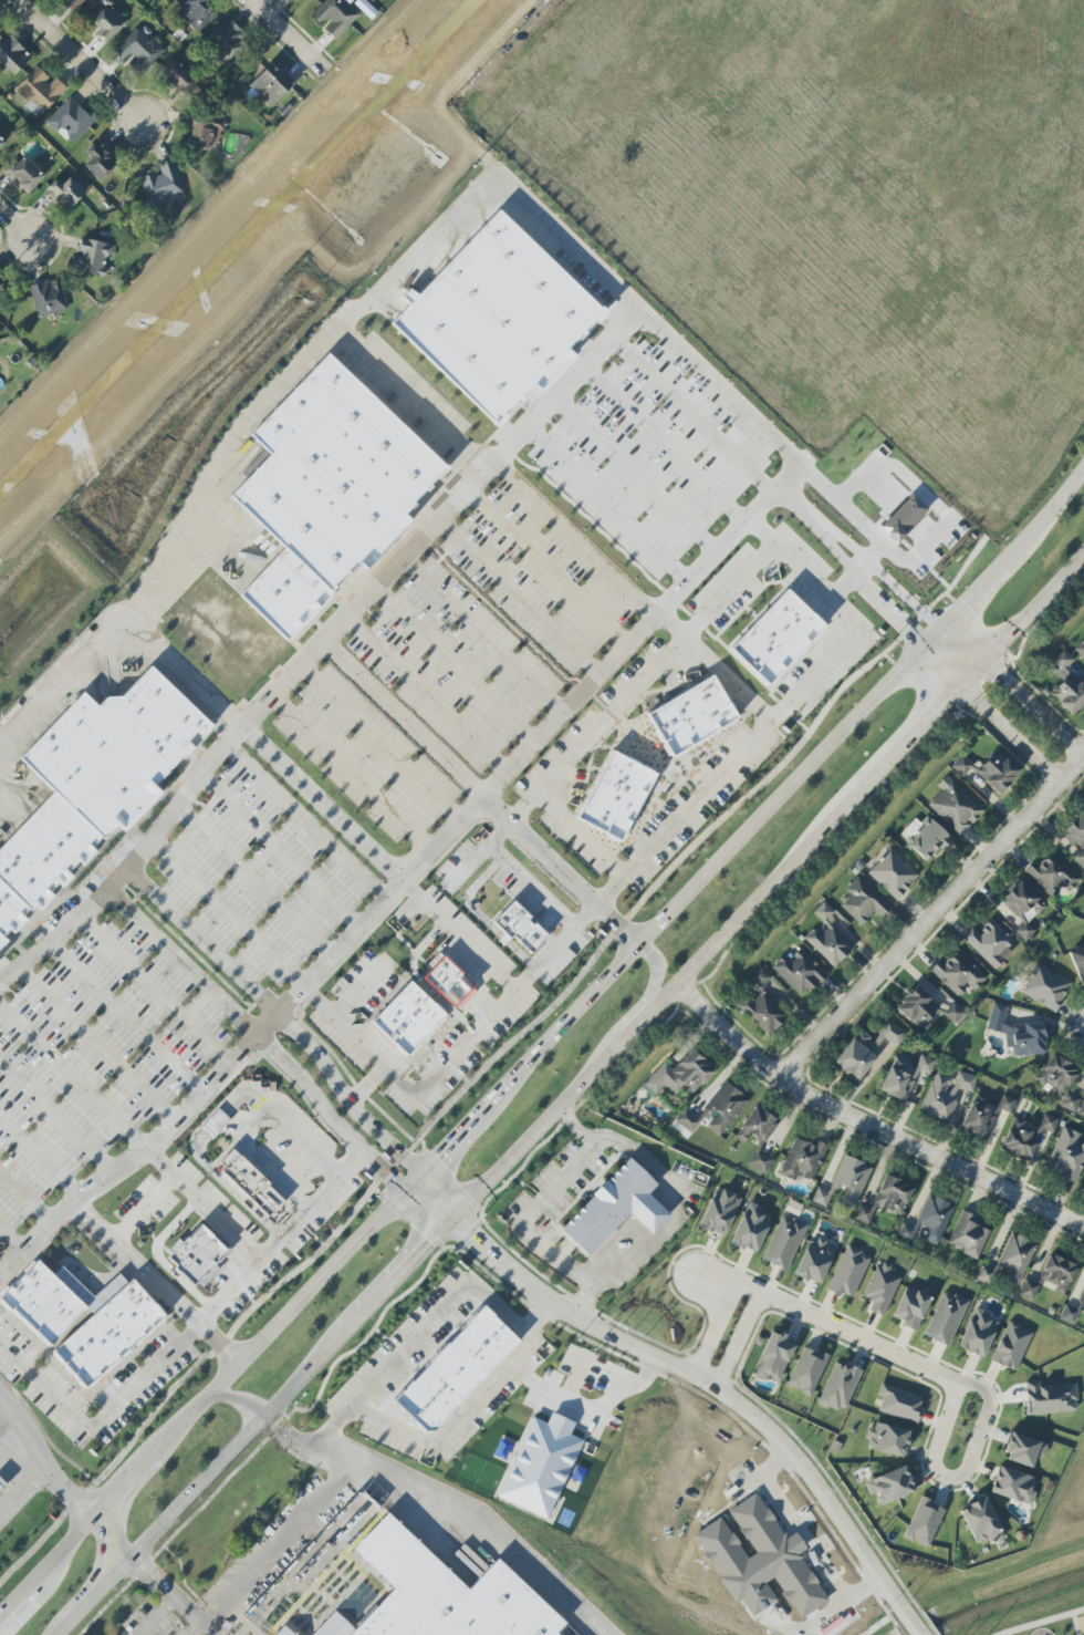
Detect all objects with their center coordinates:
building: (163, 0)
building: (74, 3)
building: (196, 13)
building: (335, 15)
building: (108, 22)
road: (285, 31)
building: (229, 42)
building: (139, 50)
building: (12, 55)
road: (80, 61)
building: (177, 76)
building: (271, 84)
building: (40, 89)
building: (70, 120)
building: (204, 132)
building: (1, 142)
building: (98, 162)
building: (23, 174)
building: (161, 184)
building: (65, 192)
road: (20, 225)
building: (93, 257)
building: (0, 269)
building: (0, 282)
building: (48, 299)
building: (498, 319)
road: (657, 323)
road: (290, 362)
road: (408, 396)
road: (697, 415)
road: (665, 447)
road: (636, 476)
building: (327, 491)
road: (611, 503)
road: (791, 504)
road: (447, 514)
road: (790, 556)
road: (874, 568)
road: (548, 569)
road: (730, 588)
road: (520, 598)
building: (778, 637)
road: (479, 640)
road: (847, 640)
building: (1080, 648)
road: (456, 664)
road: (181, 672)
road: (1015, 682)
building: (1067, 685)
road: (425, 696)
road: (990, 712)
road: (406, 715)
building: (694, 717)
road: (598, 725)
road: (383, 742)
parking lot: (576, 760)
building: (961, 765)
building: (997, 770)
building: (85, 780)
building: (617, 797)
road: (325, 806)
building: (955, 806)
parking lot: (291, 818)
road: (309, 825)
road: (582, 832)
building: (927, 839)
building: (1076, 839)
road: (284, 852)
road: (131, 865)
road: (566, 868)
building: (893, 873)
building: (1052, 875)
road: (521, 876)
road: (259, 881)
building: (864, 901)
building: (1023, 908)
road: (594, 909)
road: (232, 911)
road: (931, 914)
building: (531, 931)
road: (463, 938)
building: (828, 938)
building: (989, 942)
building: (1078, 961)
building: (799, 971)
building: (958, 973)
building: (448, 981)
building: (1044, 986)
parking lot: (363, 987)
road: (158, 989)
road: (635, 1013)
building: (953, 1013)
road: (128, 1014)
building: (409, 1018)
road: (271, 1023)
building: (1018, 1032)
road: (97, 1042)
road: (543, 1048)
building: (865, 1049)
road: (238, 1056)
building: (1056, 1074)
road: (72, 1075)
building: (680, 1075)
building: (904, 1077)
building: (946, 1093)
road: (244, 1094)
road: (348, 1096)
road: (574, 1097)
building: (981, 1099)
building: (1069, 1100)
building: (1007, 1104)
building: (716, 1109)
building: (1081, 1109)
road: (333, 1114)
road: (56, 1115)
building: (978, 1119)
road: (212, 1122)
building: (1049, 1122)
building: (215, 1124)
building: (757, 1125)
road: (253, 1126)
road: (577, 1127)
road: (868, 1127)
building: (1022, 1138)
road: (873, 1142)
road: (624, 1145)
road: (41, 1153)
building: (1066, 1155)
building: (803, 1159)
building: (760, 1161)
road: (949, 1182)
building: (845, 1183)
building: (1083, 1187)
building: (246, 1190)
road: (27, 1192)
road: (227, 1192)
road: (924, 1193)
road: (82, 1194)
road: (320, 1196)
road: (978, 1197)
building: (887, 1199)
road: (201, 1203)
building: (615, 1208)
building: (792, 1208)
road: (142, 1210)
building: (720, 1212)
building: (936, 1217)
parking lot: (319, 1219)
road: (1028, 1220)
building: (751, 1228)
building: (905, 1232)
road: (1003, 1232)
road: (12, 1234)
building: (969, 1235)
building: (784, 1241)
road: (1072, 1242)
road: (1047, 1249)
building: (1018, 1258)
building: (814, 1261)
building: (192, 1262)
building: (850, 1271)
building: (911, 1273)
building: (988, 1274)
building: (1052, 1279)
road: (159, 1286)
building: (882, 1287)
road: (1077, 1293)
building: (1082, 1293)
building: (1082, 1300)
building: (911, 1307)
road: (503, 1312)
building: (1071, 1314)
road: (540, 1317)
building: (946, 1317)
building: (74, 1324)
road: (832, 1326)
road: (713, 1328)
building: (978, 1333)
road: (738, 1341)
building: (1011, 1345)
building: (773, 1357)
building: (807, 1370)
building: (465, 1374)
road: (697, 1376)
road: (574, 1378)
road: (143, 1383)
building: (838, 1386)
parking lot: (105, 1396)
building: (1051, 1398)
road: (246, 1400)
road: (605, 1401)
building: (899, 1403)
road: (2, 1415)
building: (888, 1439)
building: (1023, 1449)
building: (541, 1465)
road: (42, 1466)
road: (18, 1467)
road: (967, 1469)
park: (479, 1473)
building: (2, 1483)
gas station: (2, 1483)
building: (890, 1486)
building: (1013, 1486)
road: (22, 1496)
road: (448, 1504)
building: (924, 1522)
building: (981, 1522)
road: (114, 1541)
road: (278, 1543)
building: (444, 1593)
road: (176, 1596)
road: (157, 1615)
parking lot: (154, 1622)
road: (883, 1622)
road: (1042, 1622)
park: (1047, 1623)
road: (1074, 1624)
building: (283, 1632)

